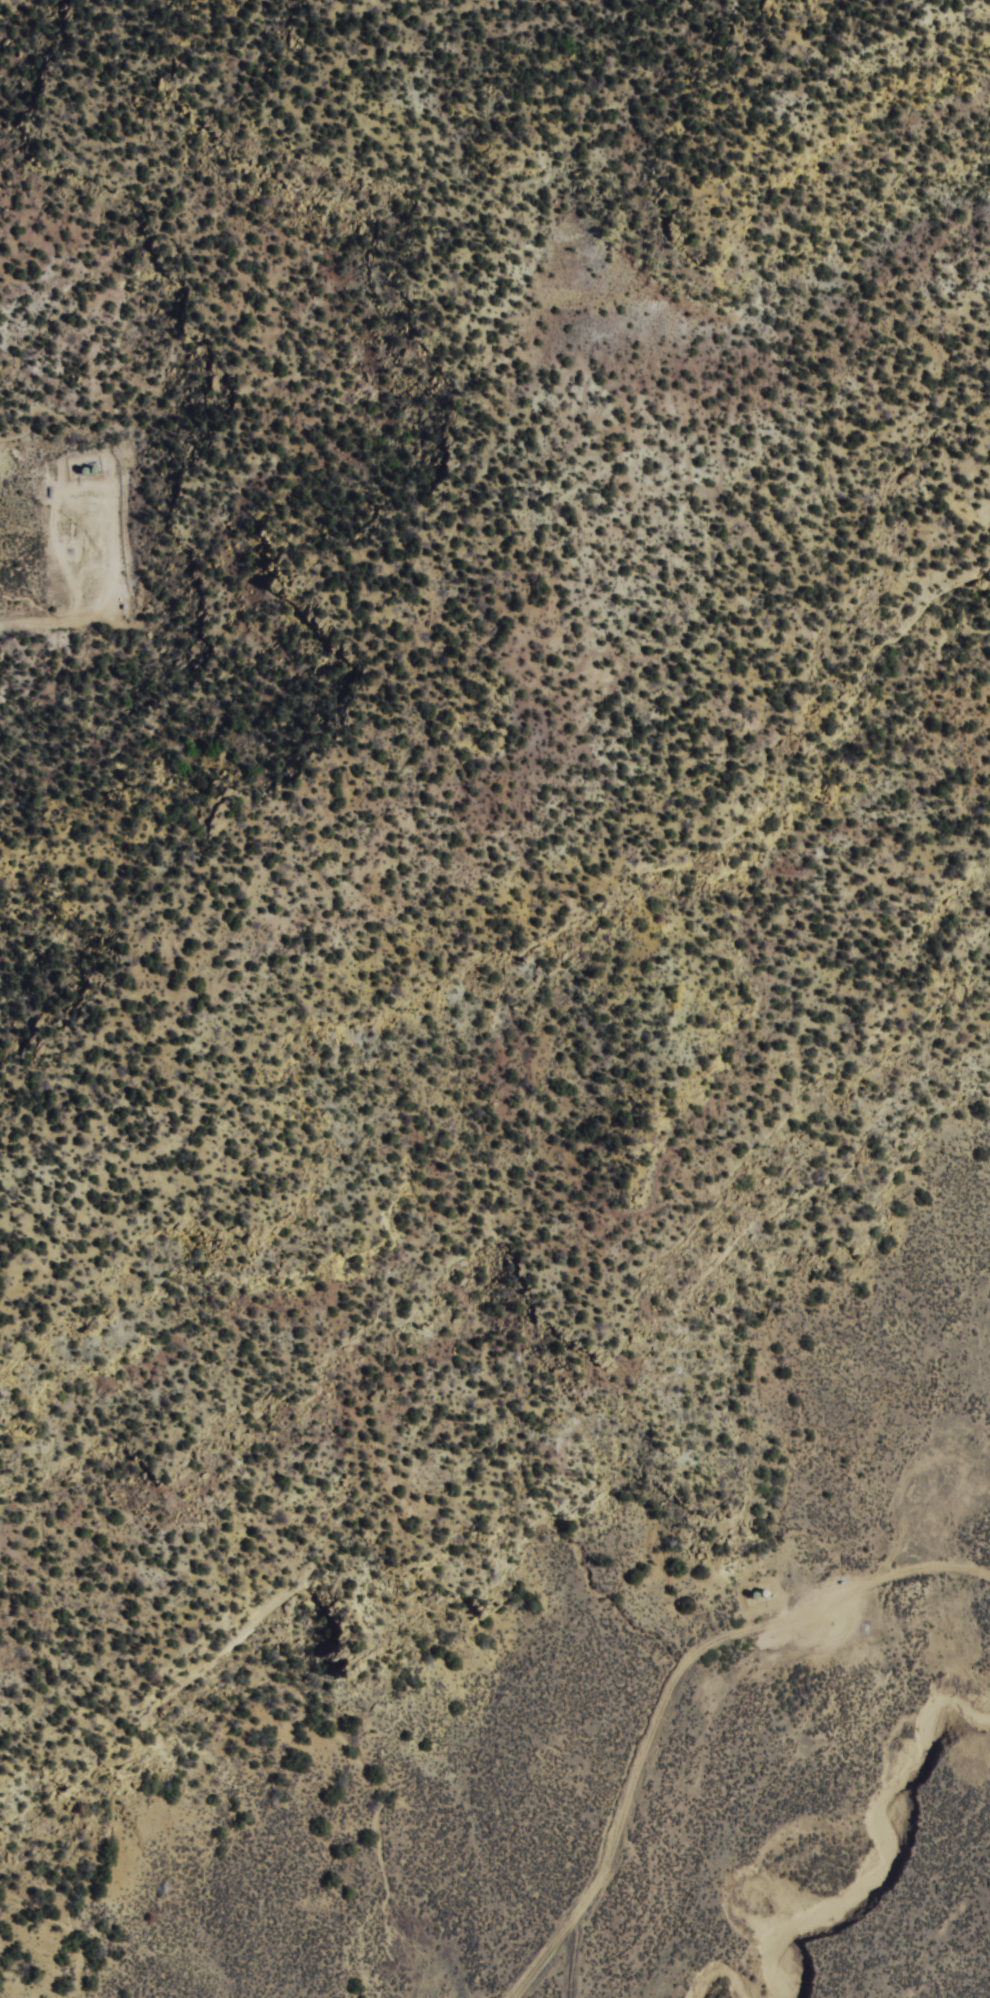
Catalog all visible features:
road: (973, 1571)

